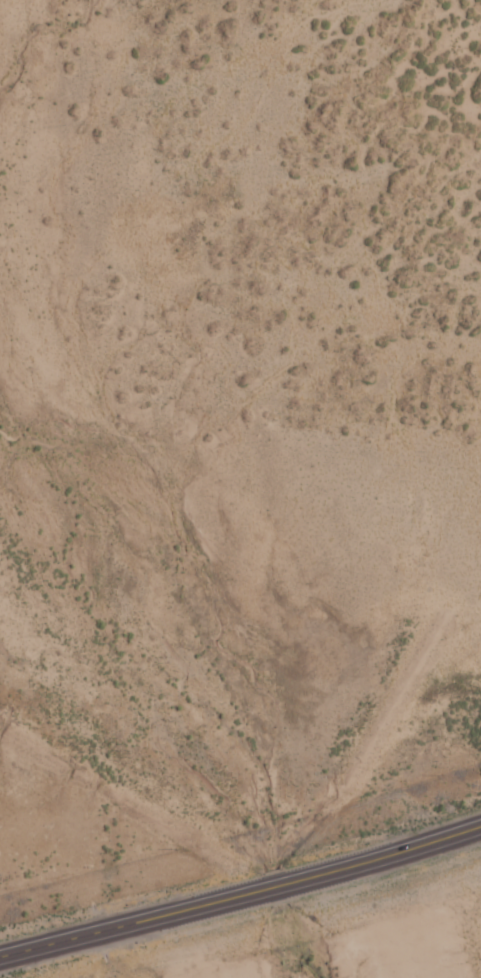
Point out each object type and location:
road: (243, 650)
road: (241, 894)

